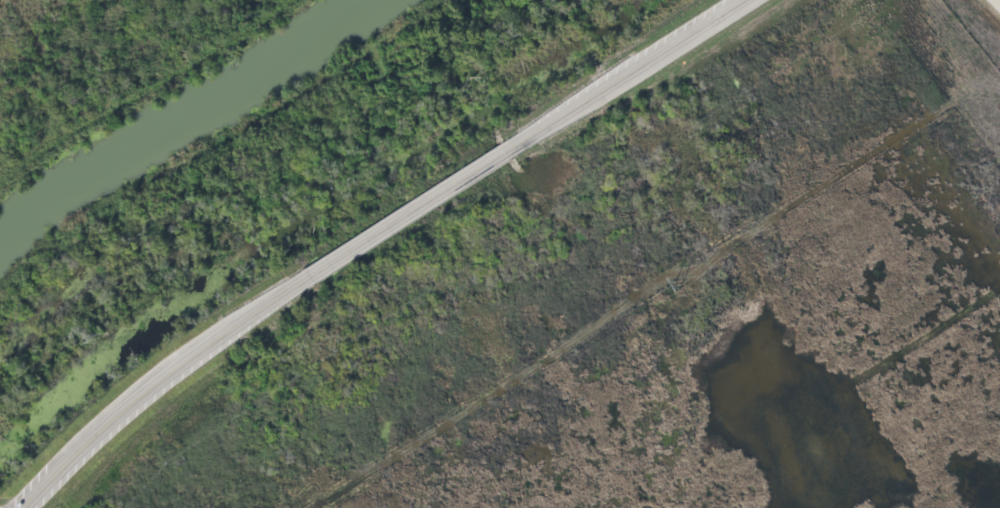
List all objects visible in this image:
road: (998, 1)
road: (369, 234)
power tower: (676, 285)

